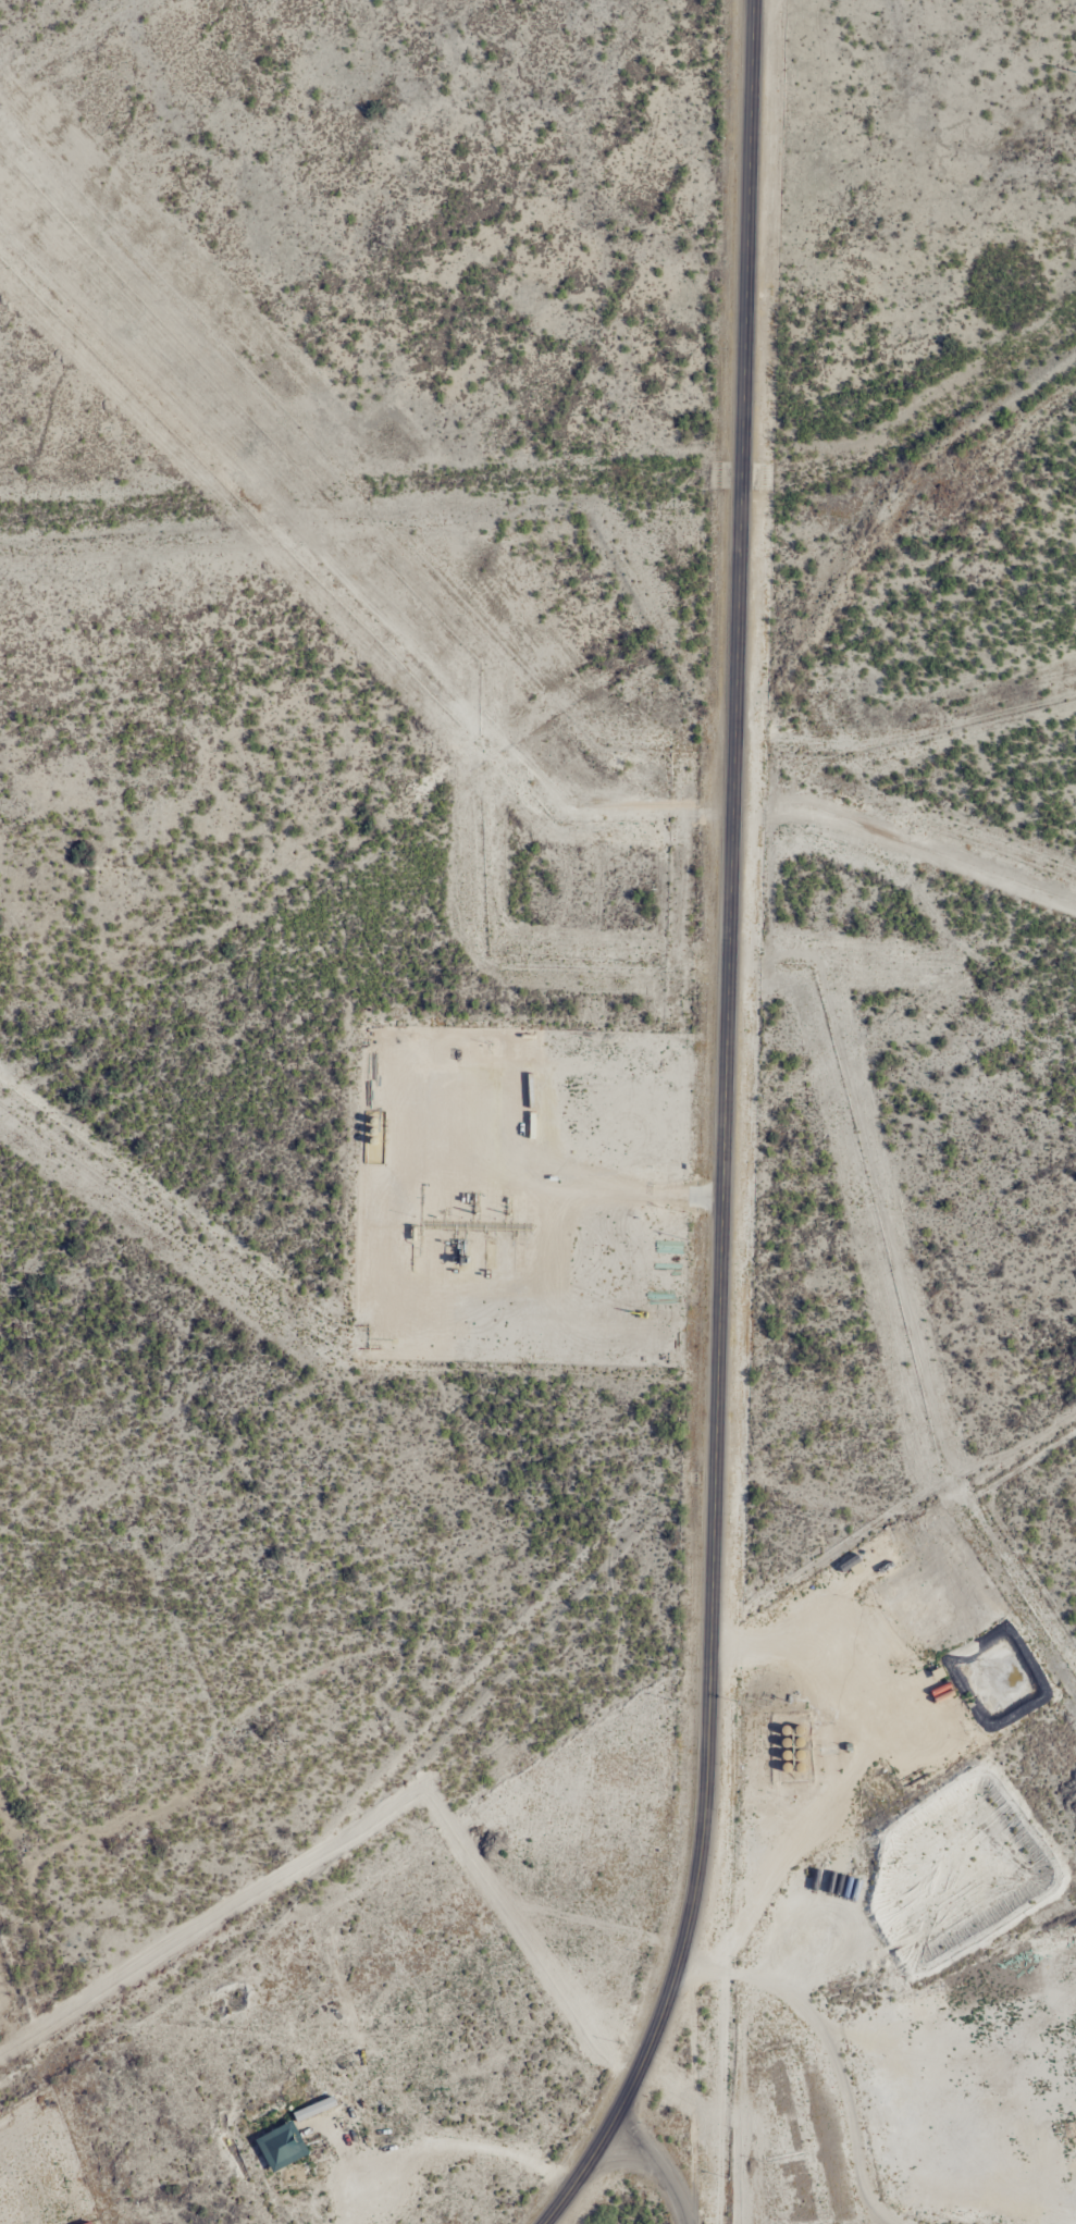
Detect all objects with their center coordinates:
road: (722, 1130)
road: (826, 2050)
building: (312, 2110)
road: (436, 2149)
road: (654, 2170)
building: (87, 2223)

